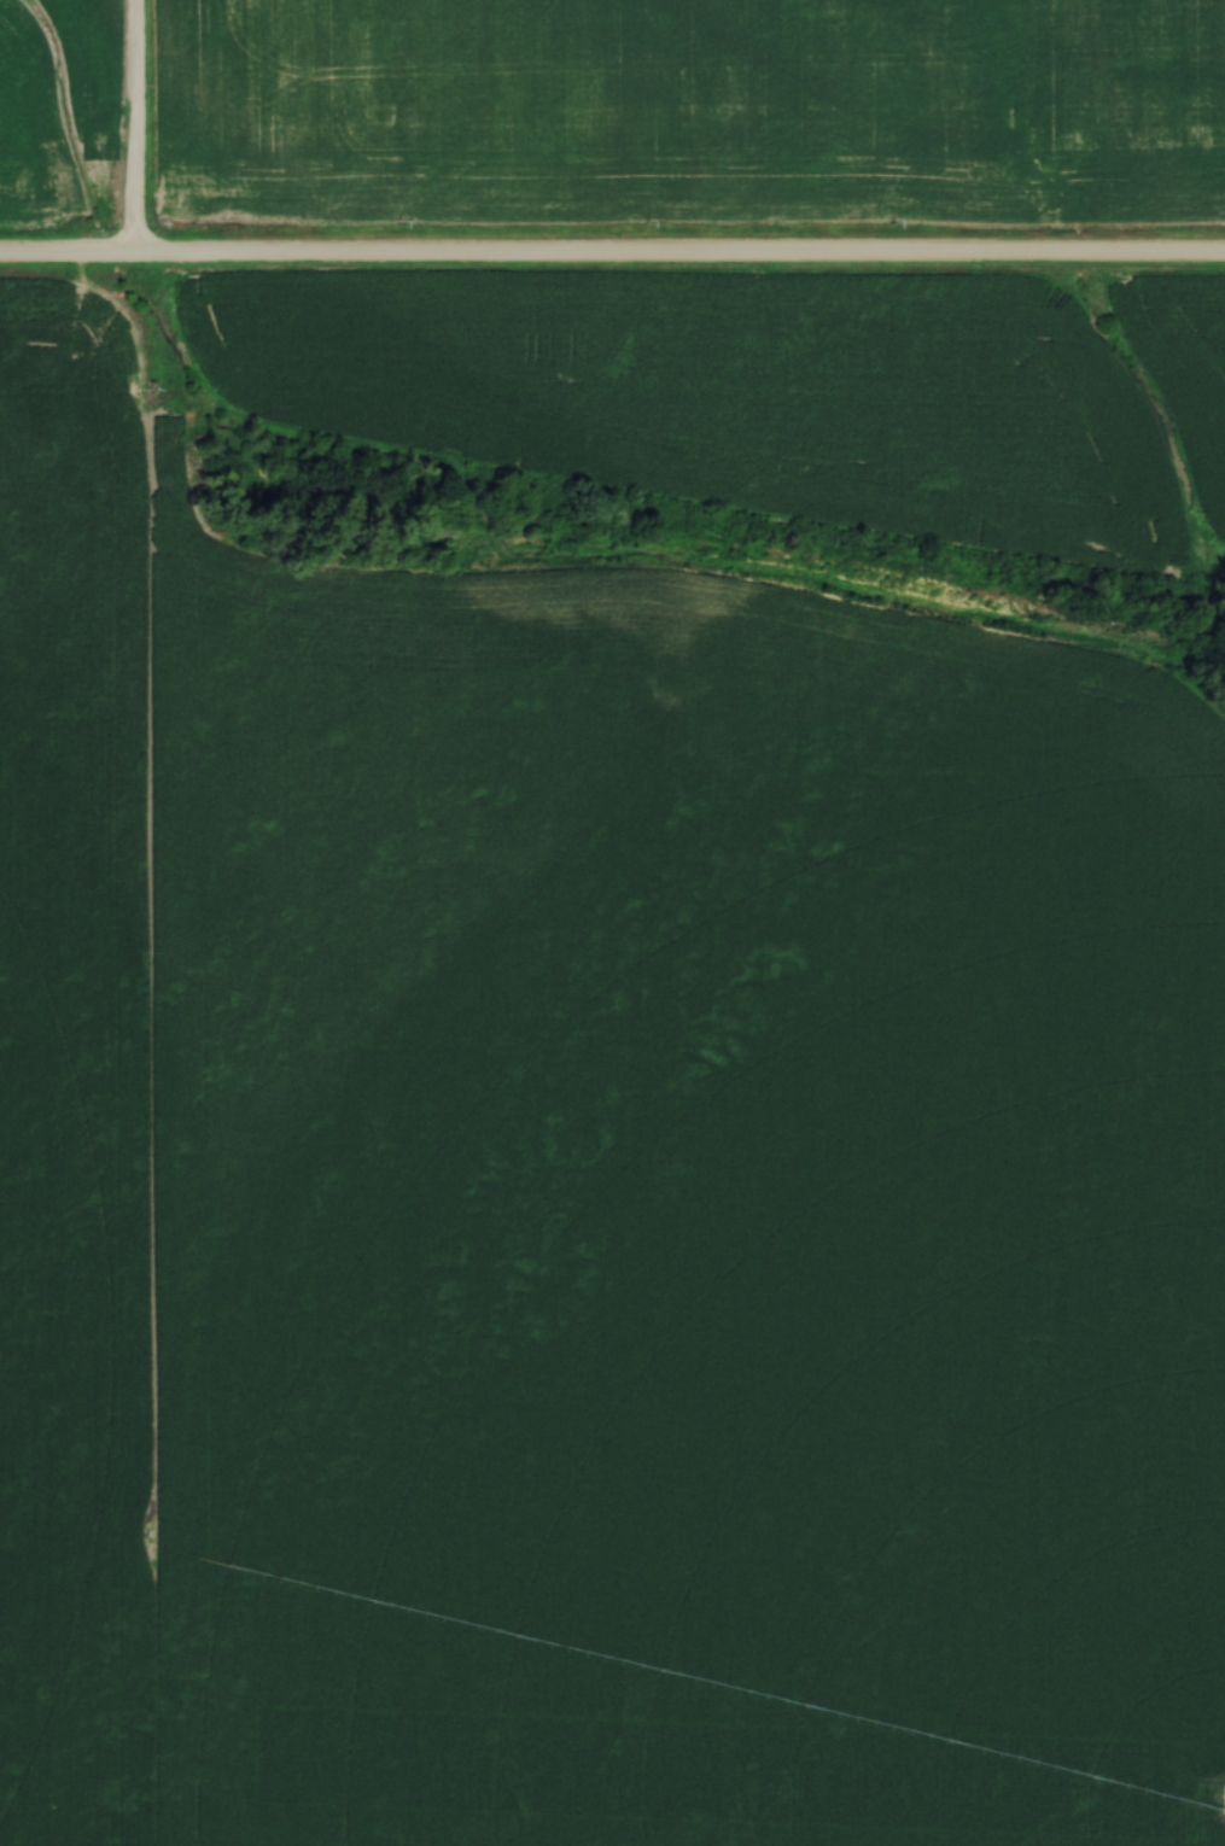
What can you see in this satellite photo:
road: (132, 125)
road: (612, 252)

